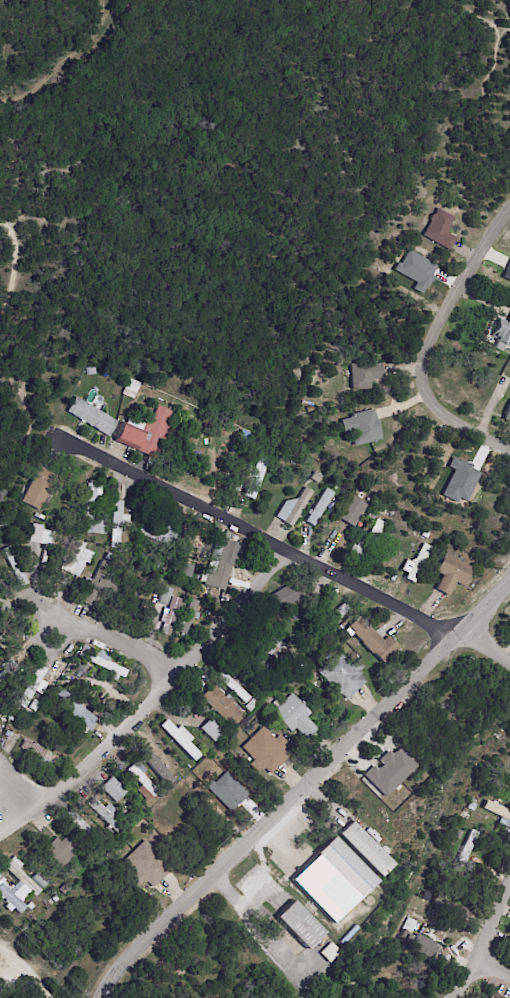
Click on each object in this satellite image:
building: (441, 230)
building: (506, 271)
building: (502, 333)
road: (428, 341)
building: (91, 371)
building: (366, 376)
building: (139, 387)
building: (310, 409)
building: (507, 416)
building: (92, 417)
building: (366, 428)
building: (147, 434)
building: (220, 434)
building: (255, 478)
building: (315, 478)
building: (334, 487)
building: (39, 490)
building: (92, 498)
building: (321, 508)
building: (294, 509)
building: (353, 512)
building: (116, 525)
building: (96, 528)
road: (250, 530)
building: (1, 534)
building: (157, 534)
building: (425, 535)
building: (41, 537)
building: (367, 545)
building: (141, 558)
building: (75, 559)
building: (222, 564)
building: (418, 564)
building: (16, 566)
building: (186, 569)
building: (451, 575)
building: (98, 584)
building: (313, 592)
building: (165, 597)
building: (285, 597)
road: (489, 605)
building: (170, 616)
building: (332, 619)
building: (188, 621)
road: (99, 626)
building: (508, 636)
road: (489, 641)
building: (374, 643)
building: (266, 645)
building: (83, 652)
building: (251, 661)
building: (108, 665)
building: (8, 671)
building: (342, 678)
building: (233, 688)
building: (33, 689)
building: (60, 695)
road: (149, 698)
building: (34, 706)
building: (220, 706)
building: (251, 707)
building: (11, 717)
building: (80, 719)
building: (295, 719)
building: (0, 728)
building: (212, 730)
building: (181, 740)
building: (265, 753)
building: (41, 756)
building: (159, 763)
building: (389, 770)
building: (142, 783)
building: (113, 791)
road: (13, 793)
building: (472, 805)
road: (281, 809)
building: (498, 812)
building: (106, 817)
building: (80, 827)
building: (367, 850)
building: (467, 850)
building: (61, 852)
building: (149, 866)
building: (348, 867)
building: (40, 881)
building: (15, 888)
building: (54, 899)
road: (238, 900)
building: (443, 903)
building: (30, 907)
building: (300, 925)
building: (403, 935)
building: (410, 939)
building: (508, 943)
building: (426, 947)
road: (485, 948)
road: (495, 970)
building: (409, 991)
building: (494, 995)

